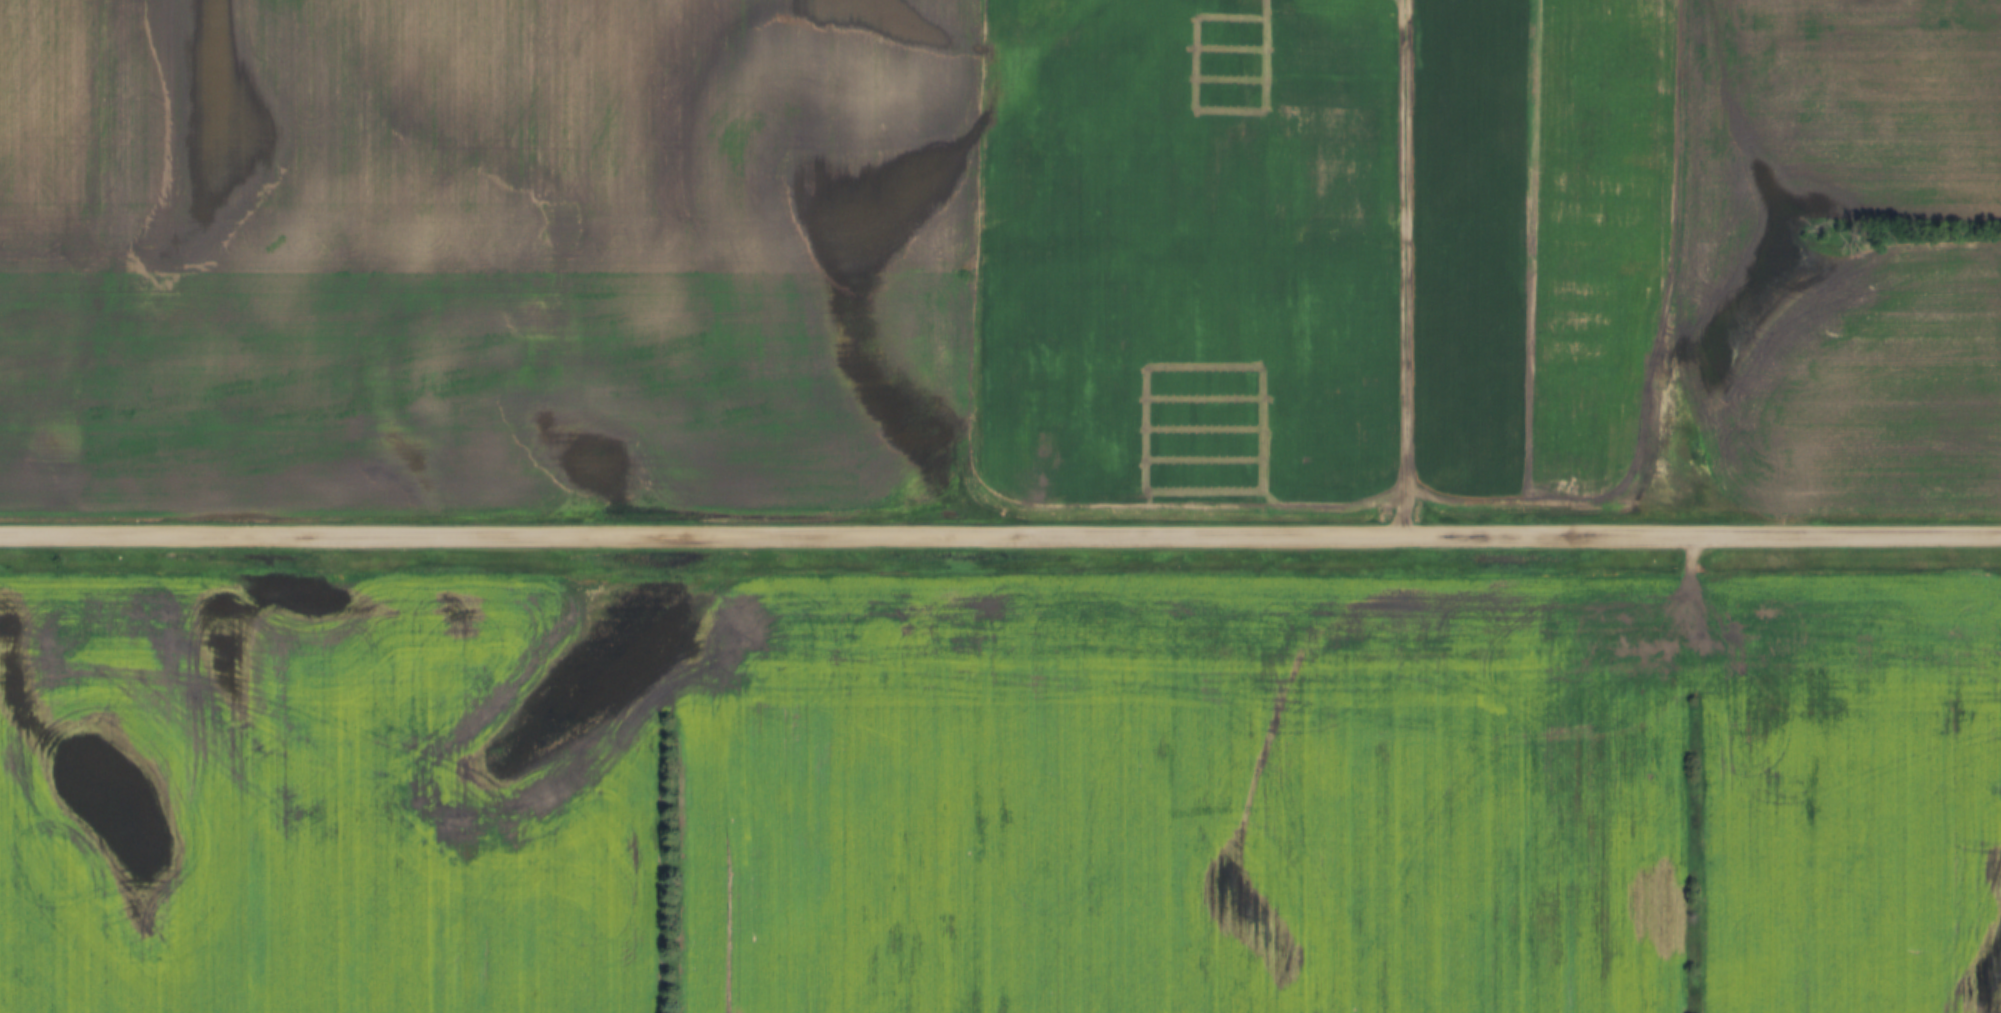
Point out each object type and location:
road: (1407, 252)
building: (1085, 315)
road: (639, 500)
road: (1000, 532)

